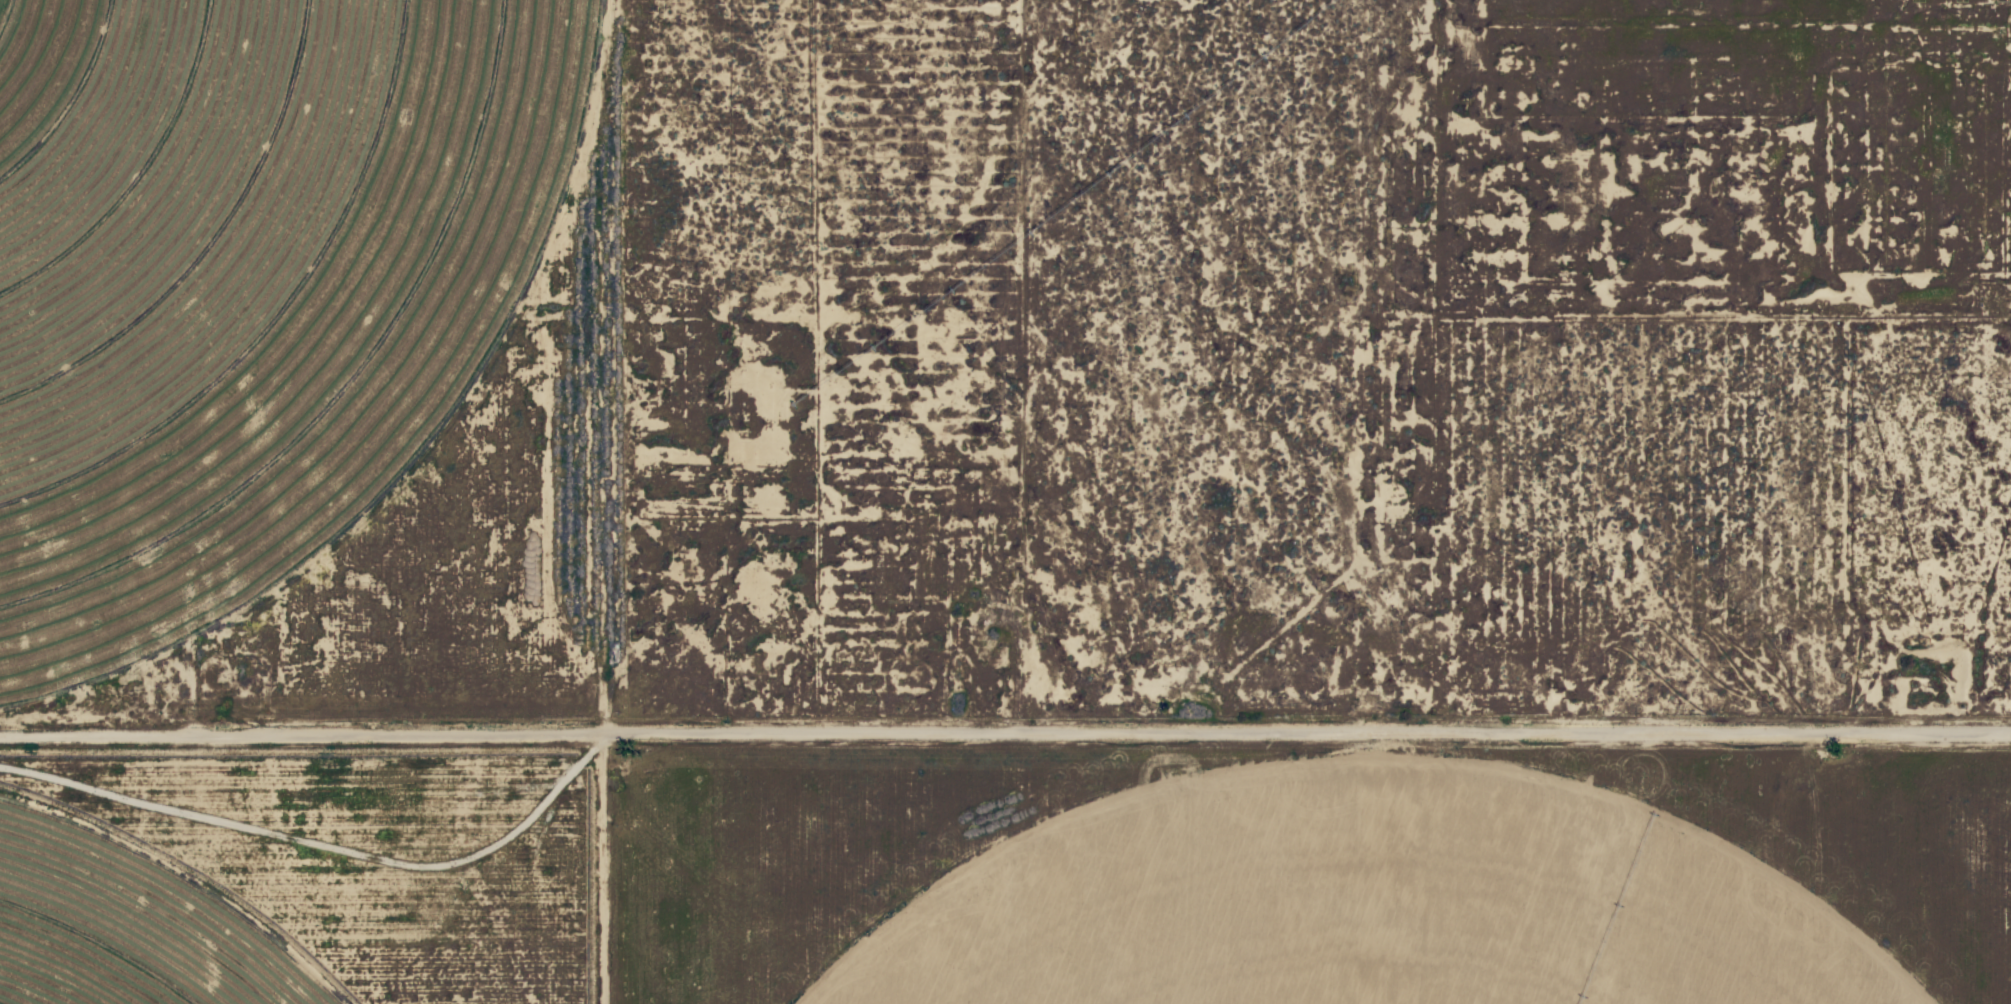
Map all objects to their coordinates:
crop: (243, 281)
road: (1269, 374)
road: (587, 501)
road: (1004, 707)
crop: (1365, 908)
crop: (125, 928)

